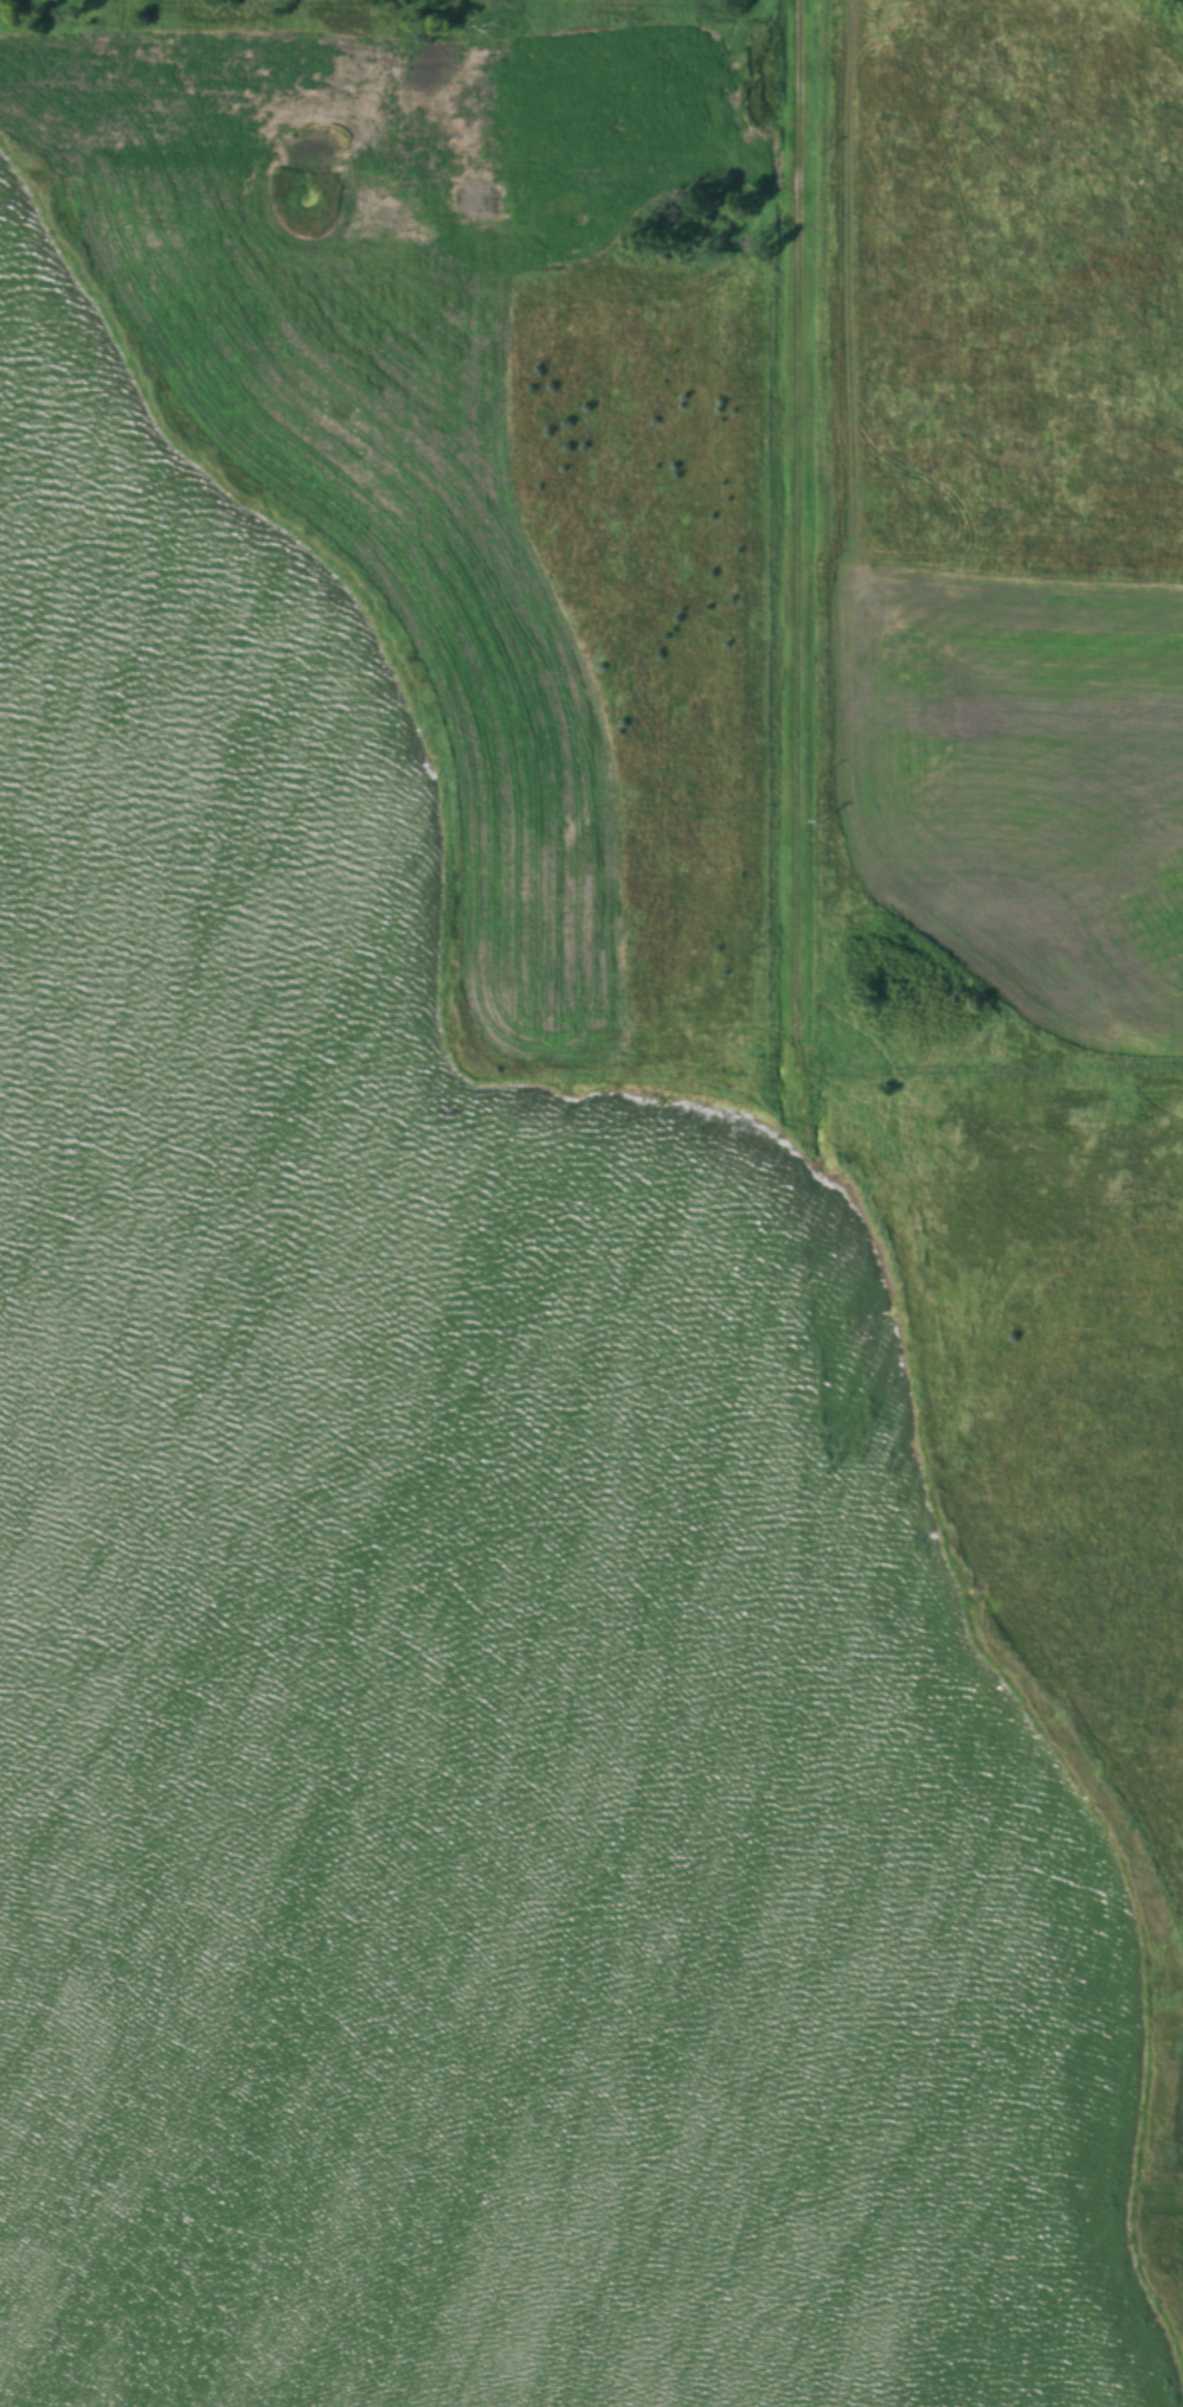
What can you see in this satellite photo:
road: (810, 1203)
road: (984, 2230)

